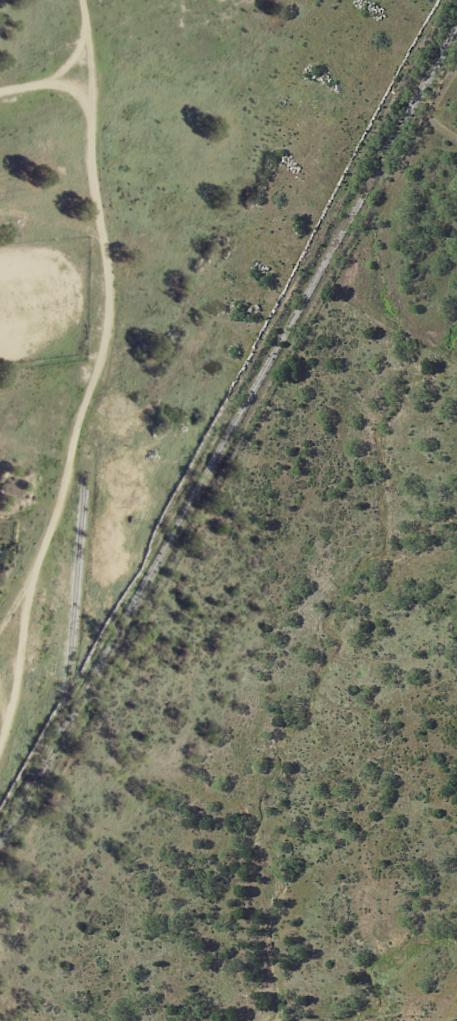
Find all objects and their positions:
road: (45, 81)
road: (94, 373)
railway: (228, 443)
railway: (73, 636)

